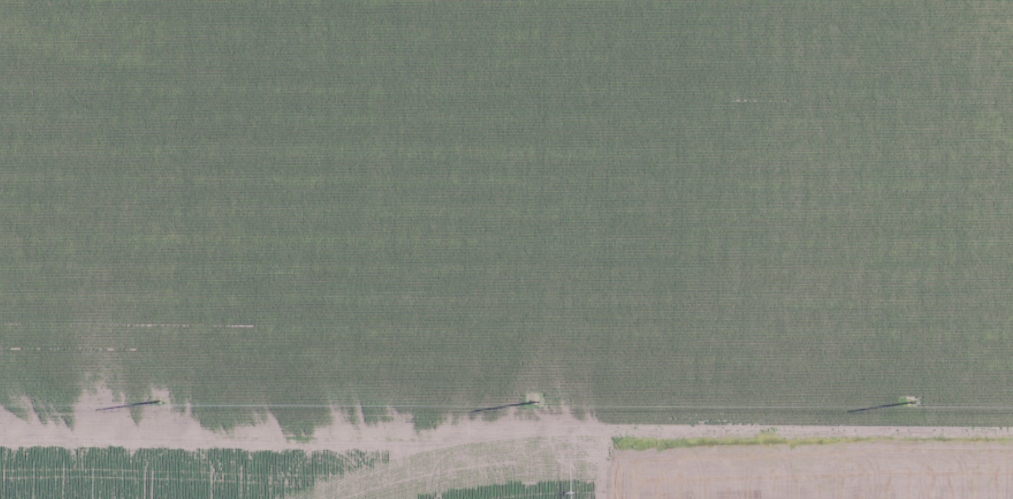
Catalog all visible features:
power tower: (178, 399)
power tower: (551, 400)
power tower: (905, 403)

